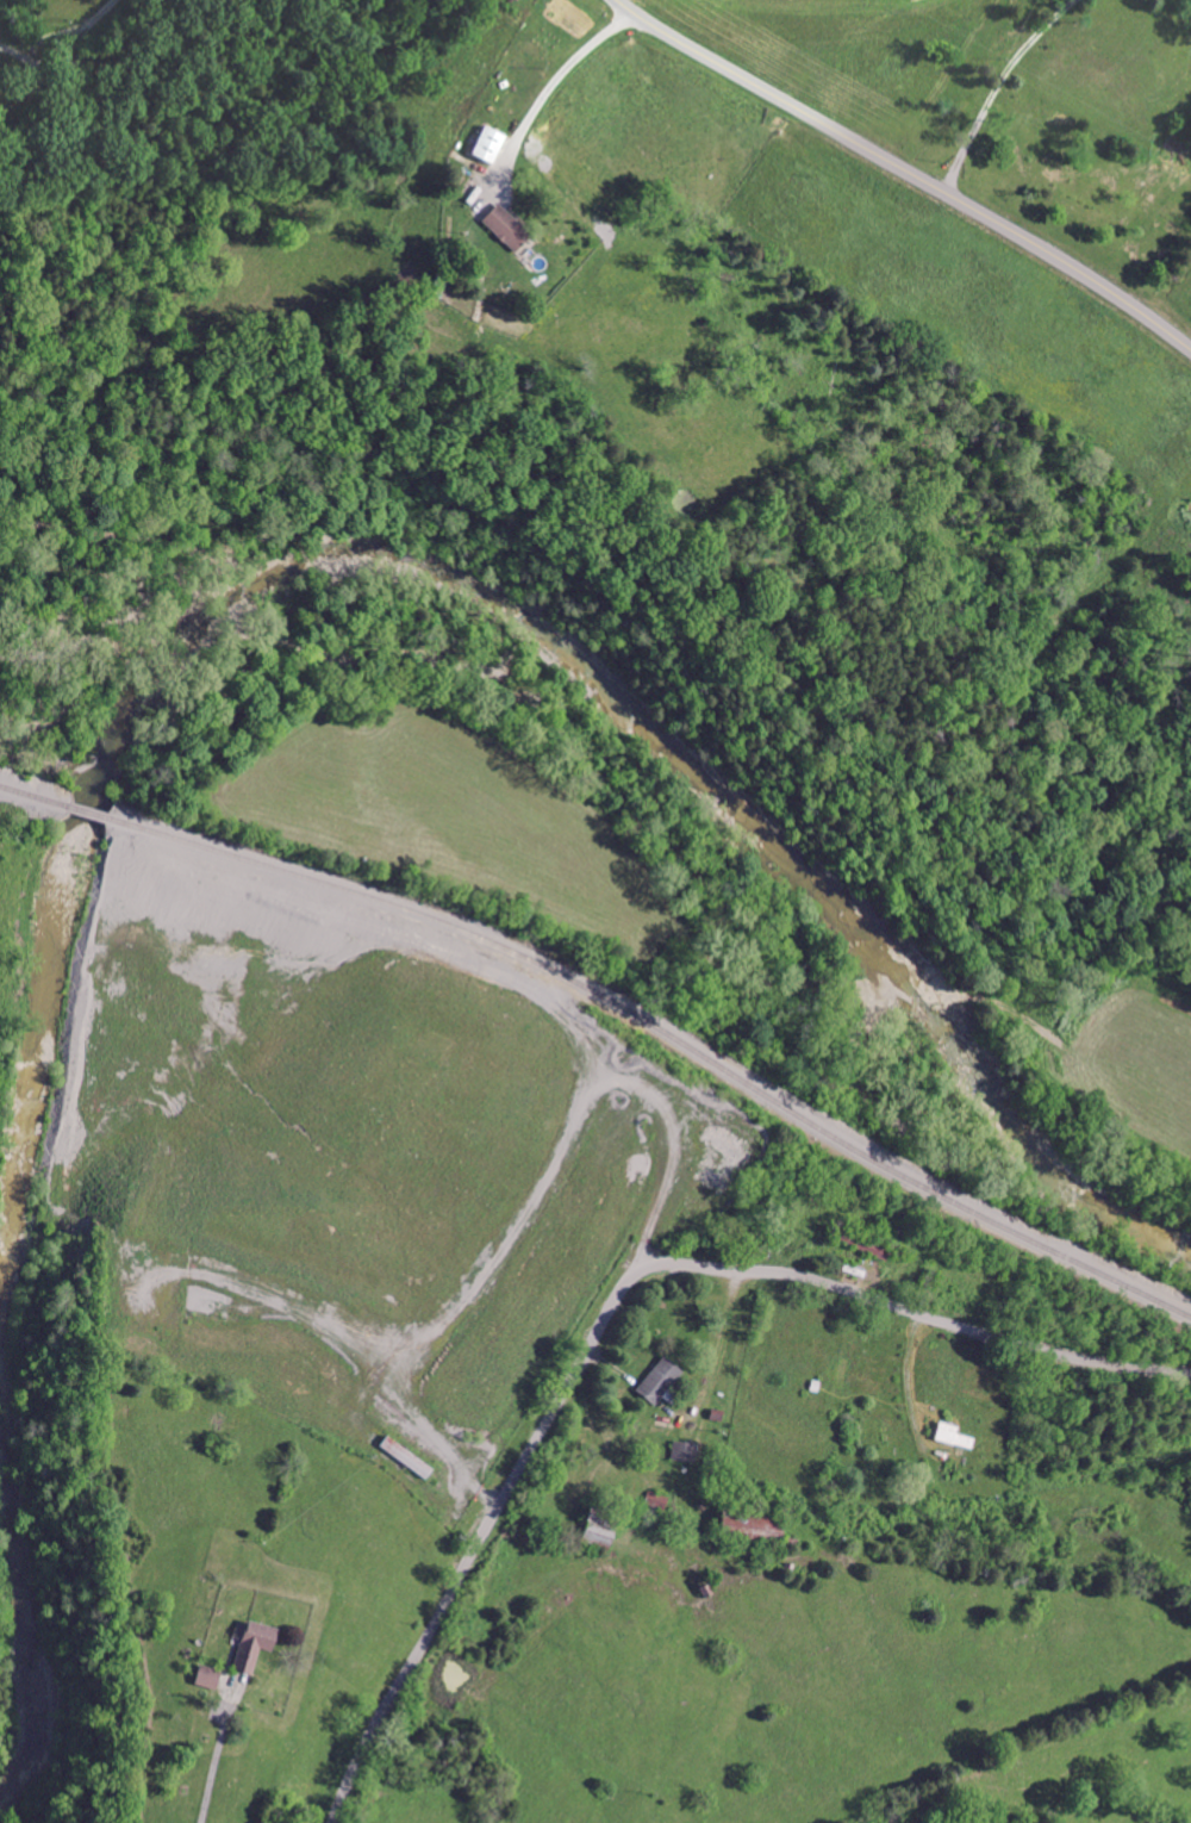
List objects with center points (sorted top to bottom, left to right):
building: (8, 5)
road: (62, 32)
road: (553, 85)
road: (998, 86)
building: (540, 125)
road: (908, 169)
building: (559, 209)
railway: (32, 794)
railway: (87, 809)
railway: (665, 1029)
road: (617, 1295)
building: (710, 1360)
building: (1003, 1414)
building: (735, 1431)
building: (803, 1507)
building: (308, 1625)
building: (261, 1657)
road: (213, 1765)

